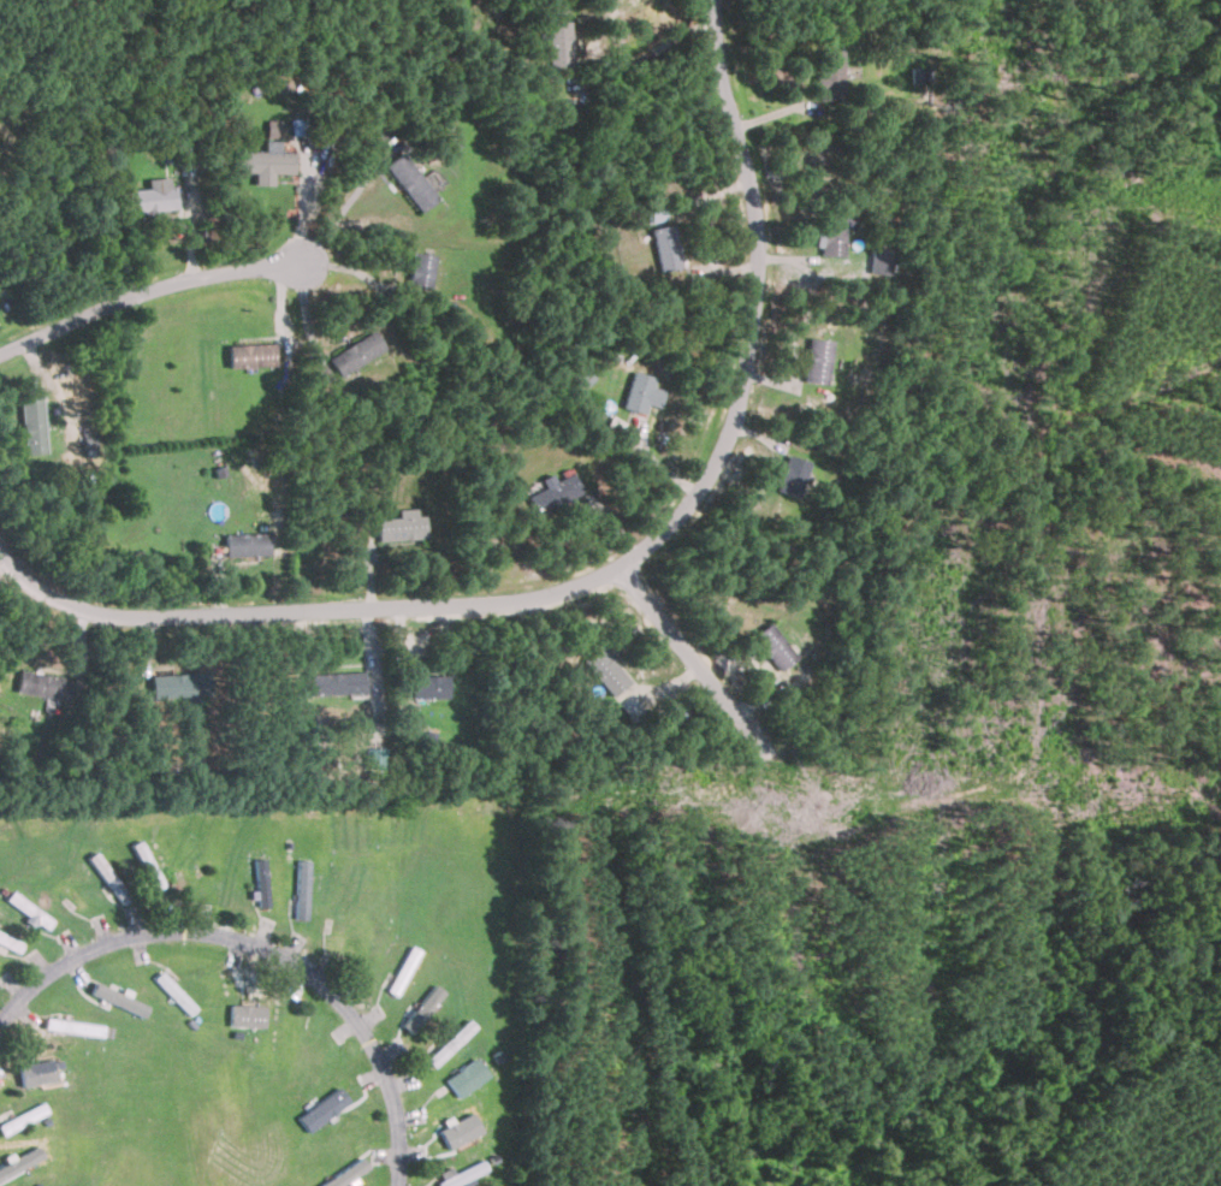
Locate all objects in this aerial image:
building: (557, 45)
road: (647, 52)
building: (828, 75)
building: (272, 129)
building: (261, 161)
building: (408, 182)
building: (150, 198)
road: (304, 201)
road: (342, 207)
building: (652, 210)
building: (828, 237)
building: (664, 248)
building: (879, 261)
road: (357, 269)
building: (417, 271)
road: (147, 296)
building: (354, 352)
building: (248, 355)
building: (814, 361)
building: (635, 391)
building: (30, 425)
building: (789, 476)
building: (552, 493)
building: (398, 527)
building: (244, 545)
building: (217, 550)
road: (611, 574)
building: (771, 646)
road: (700, 662)
building: (604, 670)
building: (332, 683)
building: (36, 684)
building: (178, 686)
building: (427, 687)
building: (42, 918)
road: (266, 947)
building: (402, 969)
building: (118, 998)
building: (428, 1000)
building: (247, 1014)
building: (72, 1026)
building: (450, 1042)
building: (36, 1072)
building: (467, 1077)
building: (322, 1108)
building: (22, 1117)
building: (460, 1174)

